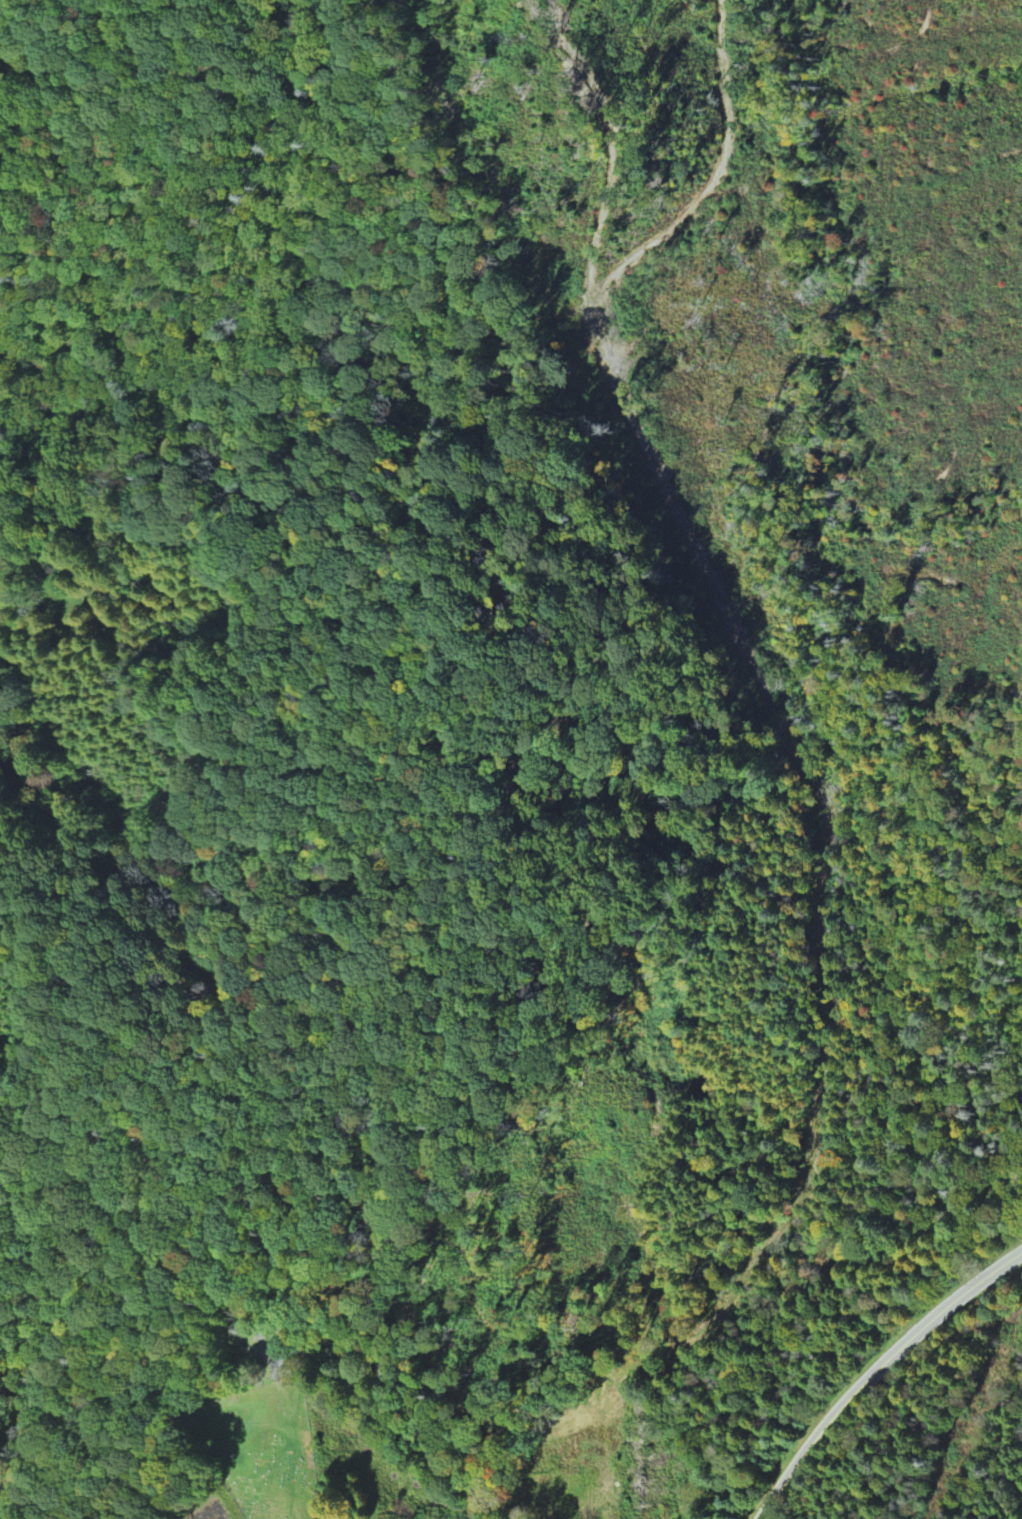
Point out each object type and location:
road: (277, 1306)
road: (874, 1370)
road: (130, 1409)
road: (416, 1443)
park: (271, 1479)

